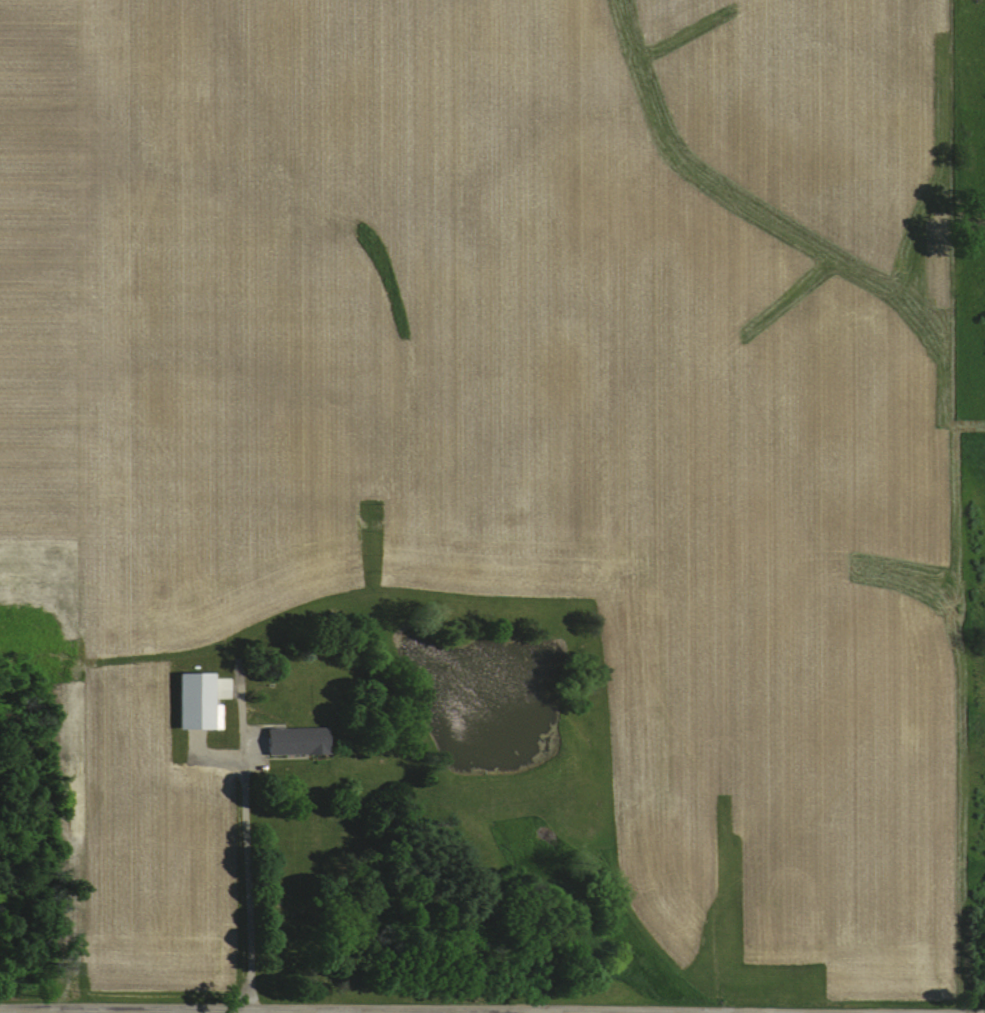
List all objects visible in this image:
building: (193, 702)
building: (293, 741)
road: (246, 887)
road: (386, 1007)
road: (354, 1010)

